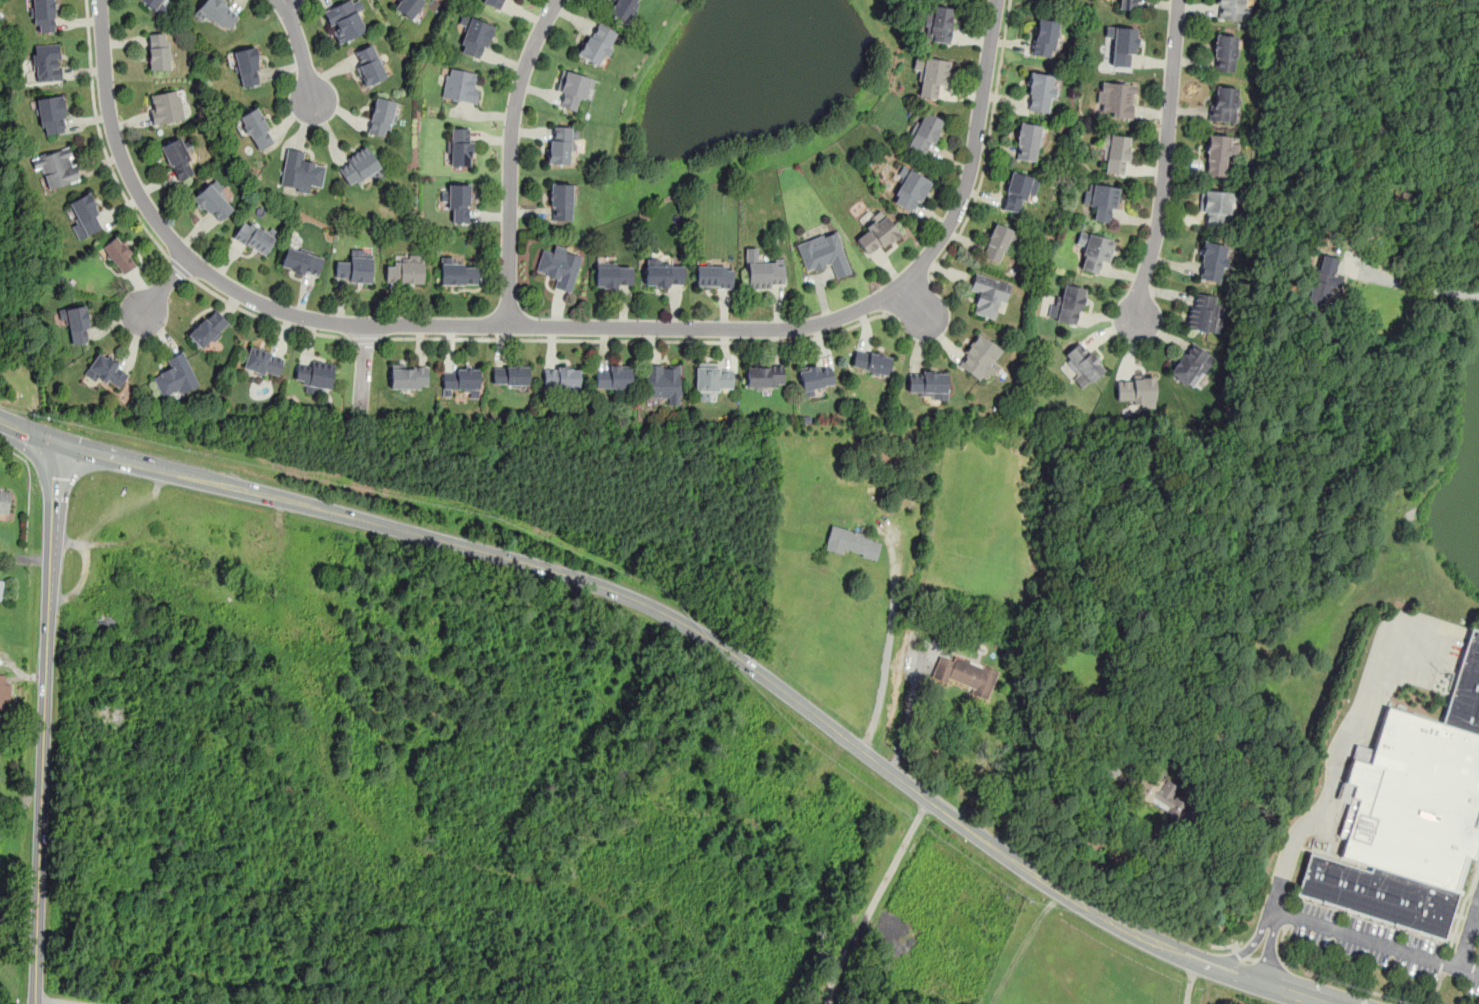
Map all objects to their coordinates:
road: (280, 0)
building: (153, 3)
building: (495, 3)
building: (1126, 4)
building: (409, 7)
building: (623, 8)
building: (1231, 10)
building: (216, 11)
building: (43, 16)
building: (344, 19)
building: (937, 23)
building: (476, 38)
building: (1043, 38)
building: (597, 43)
building: (1121, 45)
building: (158, 51)
building: (1224, 52)
road: (300, 53)
building: (46, 62)
building: (369, 64)
building: (247, 66)
building: (932, 76)
building: (460, 85)
building: (573, 88)
building: (1039, 92)
building: (1116, 99)
building: (1223, 104)
building: (165, 107)
building: (51, 114)
building: (381, 117)
building: (256, 129)
building: (924, 132)
road: (100, 137)
building: (1026, 141)
building: (561, 143)
road: (988, 145)
building: (460, 147)
building: (1114, 153)
building: (1218, 153)
building: (178, 158)
road: (511, 158)
road: (1165, 161)
building: (57, 166)
building: (358, 166)
building: (300, 172)
building: (910, 190)
building: (1017, 190)
building: (561, 200)
building: (1101, 200)
building: (213, 203)
building: (459, 203)
building: (1215, 205)
building: (85, 215)
building: (876, 235)
building: (253, 238)
building: (997, 242)
building: (1094, 249)
building: (119, 253)
building: (823, 253)
building: (301, 260)
building: (1212, 262)
road: (179, 266)
building: (354, 266)
building: (559, 266)
building: (406, 269)
building: (765, 272)
building: (459, 273)
building: (612, 275)
building: (663, 275)
building: (713, 275)
building: (1325, 283)
road: (1421, 285)
road: (162, 286)
road: (909, 295)
building: (988, 295)
building: (1067, 304)
building: (1203, 313)
road: (266, 319)
building: (77, 323)
road: (554, 325)
building: (207, 327)
road: (636, 339)
road: (365, 341)
building: (979, 358)
building: (871, 360)
building: (263, 362)
building: (1083, 362)
building: (1190, 364)
road: (363, 365)
building: (107, 370)
building: (510, 375)
building: (175, 376)
building: (313, 376)
building: (764, 376)
building: (408, 377)
building: (562, 377)
building: (613, 377)
building: (713, 377)
building: (815, 377)
building: (461, 381)
building: (662, 381)
building: (927, 383)
building: (1136, 390)
traffic signals: (56, 443)
building: (4, 499)
building: (853, 542)
building: (1, 587)
road: (889, 628)
road: (698, 632)
building: (964, 674)
building: (5, 691)
building: (1465, 693)
road: (906, 711)
building: (111, 713)
road: (44, 723)
road: (1058, 768)
building: (1162, 794)
building: (1414, 802)
building: (1378, 895)
road: (874, 900)
road: (18, 914)
road: (1475, 920)
road: (1466, 932)
road: (1281, 943)
road: (1377, 945)
road: (1022, 946)
road: (1226, 946)
road: (1249, 946)
parking lot: (1388, 947)
road: (1270, 948)
road: (1240, 952)
road: (1248, 959)
road: (1267, 962)
road: (1188, 982)
road: (1346, 983)
road: (1437, 987)
road: (64, 1000)

